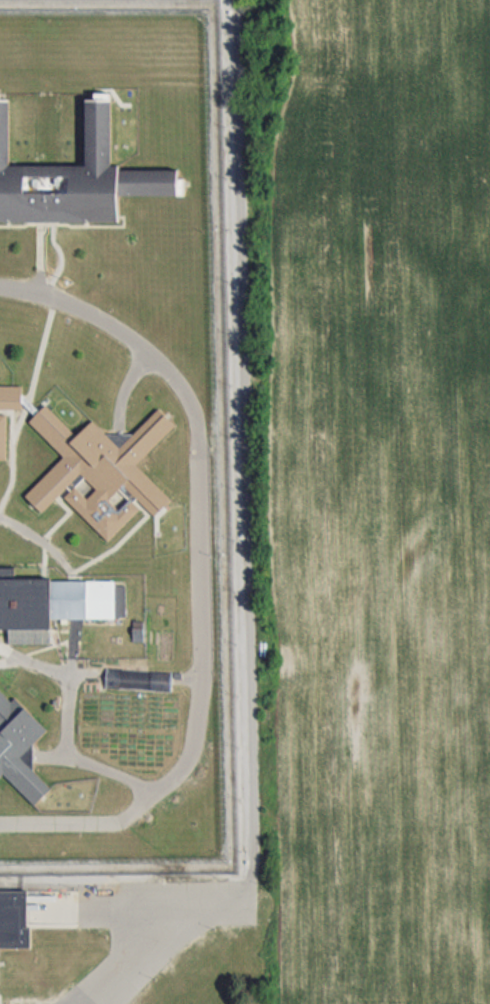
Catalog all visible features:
building: (74, 173)
building: (11, 393)
building: (4, 435)
building: (99, 465)
road: (247, 544)
building: (54, 602)
building: (135, 679)
building: (20, 753)
road: (135, 904)
building: (11, 916)

